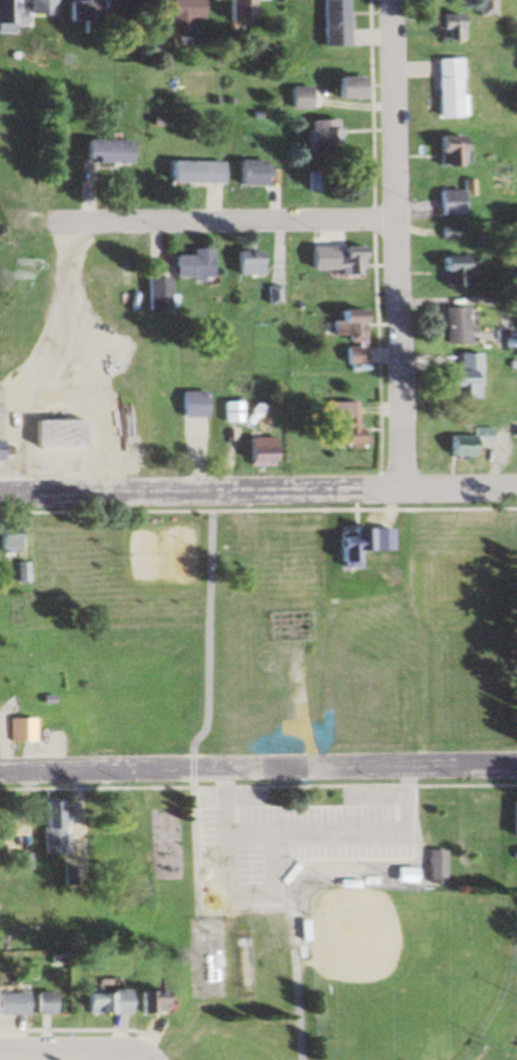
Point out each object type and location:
building: (113, 5)
building: (40, 8)
building: (481, 8)
building: (231, 10)
building: (8, 11)
building: (78, 11)
building: (179, 18)
building: (328, 22)
building: (443, 25)
building: (516, 67)
building: (345, 87)
building: (441, 88)
building: (296, 97)
building: (316, 134)
building: (105, 150)
building: (446, 150)
building: (192, 171)
building: (246, 171)
building: (314, 181)
building: (450, 200)
road: (198, 220)
building: (445, 233)
road: (396, 246)
building: (340, 257)
building: (189, 263)
building: (245, 264)
building: (448, 271)
building: (153, 294)
building: (448, 325)
building: (345, 334)
building: (458, 377)
building: (190, 404)
building: (229, 412)
building: (336, 423)
building: (52, 433)
building: (462, 443)
building: (0, 450)
building: (255, 453)
road: (258, 492)
building: (8, 539)
building: (344, 547)
building: (378, 557)
building: (21, 571)
building: (20, 729)
road: (258, 768)
road: (406, 776)
road: (195, 779)
building: (512, 818)
building: (49, 827)
parking lot: (289, 841)
building: (434, 867)
park: (329, 913)
park: (411, 979)
building: (103, 1002)
building: (148, 1002)
building: (10, 1003)
building: (42, 1003)
road: (81, 1041)

